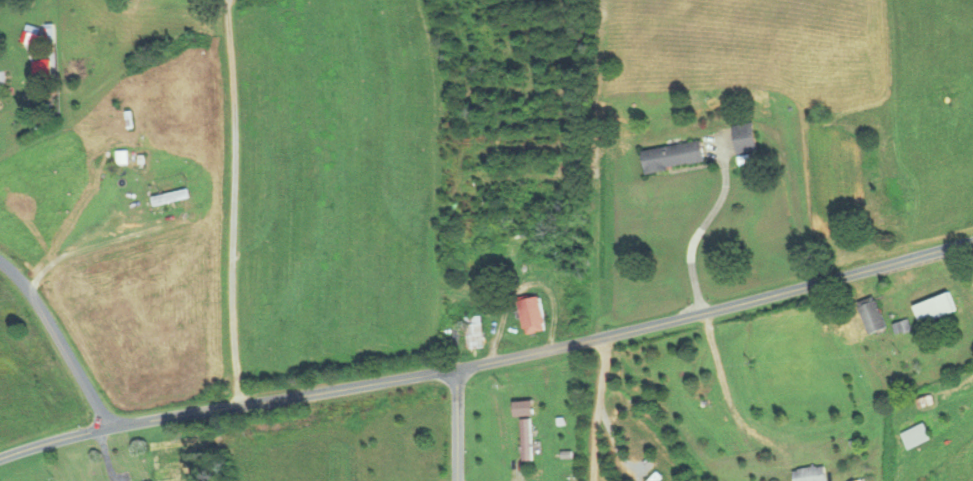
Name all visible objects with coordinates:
building: (34, 34)
building: (44, 68)
building: (2, 75)
building: (950, 95)
building: (748, 138)
building: (677, 155)
building: (172, 196)
road: (233, 202)
building: (891, 210)
building: (938, 308)
building: (534, 314)
building: (875, 315)
building: (905, 326)
building: (475, 335)
road: (59, 339)
road: (489, 363)
road: (596, 408)
road: (457, 426)
building: (919, 435)
building: (529, 439)
building: (813, 474)

